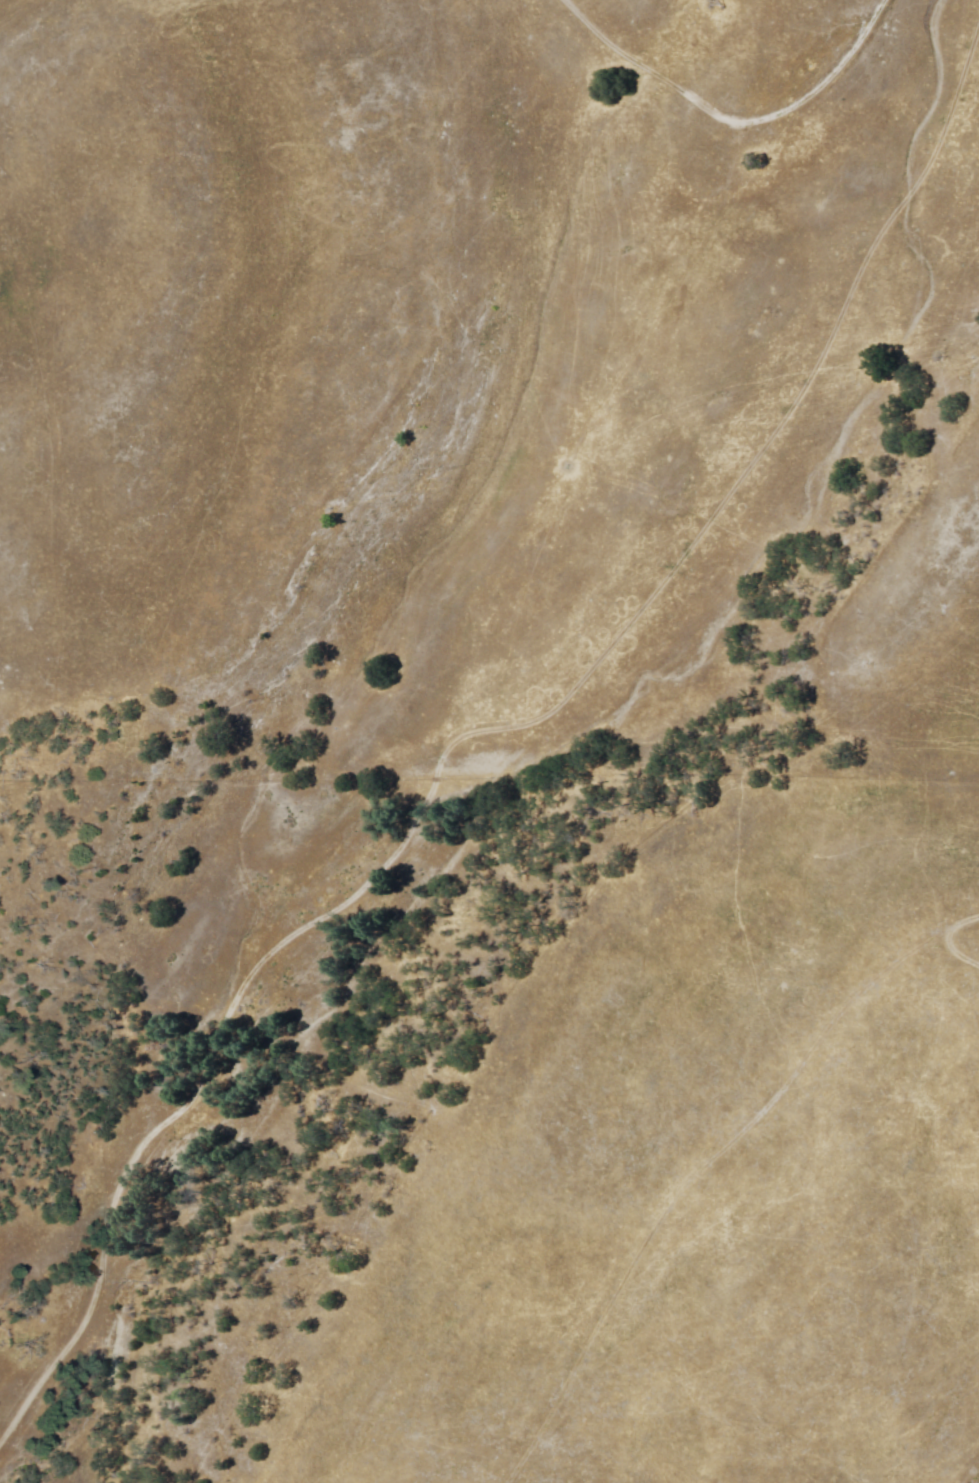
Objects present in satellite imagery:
road: (744, 74)

